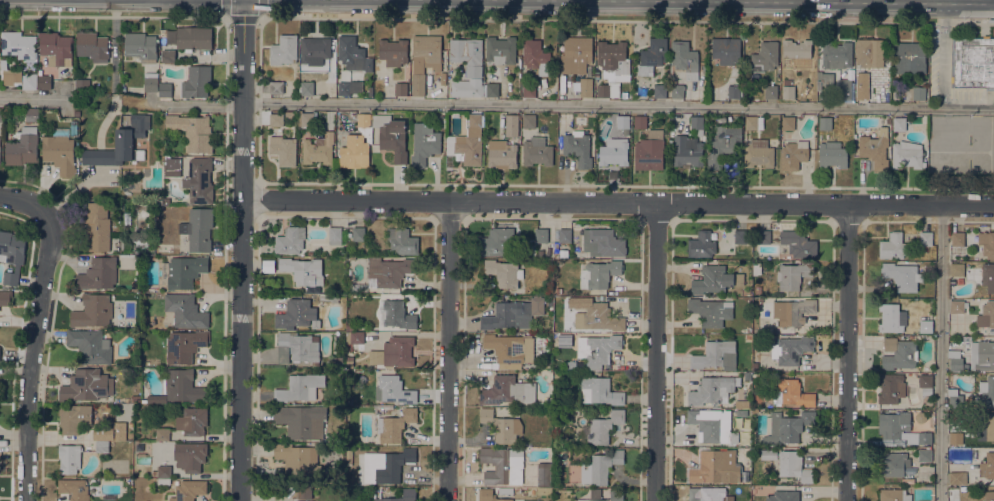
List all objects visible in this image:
road: (243, 16)
road: (225, 18)
road: (261, 19)
building: (193, 37)
building: (18, 44)
building: (93, 46)
building: (141, 46)
building: (56, 48)
building: (284, 49)
building: (796, 49)
building: (314, 50)
building: (500, 50)
building: (726, 50)
building: (393, 51)
building: (869, 52)
building: (353, 53)
building: (467, 54)
building: (576, 54)
road: (941, 54)
building: (168, 55)
building: (836, 55)
building: (536, 56)
building: (652, 56)
building: (765, 56)
building: (910, 57)
building: (685, 58)
building: (424, 59)
building: (973, 62)
building: (612, 68)
building: (850, 74)
building: (11, 76)
building: (443, 78)
building: (820, 78)
building: (43, 80)
building: (29, 81)
building: (196, 81)
building: (150, 83)
building: (82, 84)
building: (276, 86)
building: (586, 86)
building: (306, 87)
building: (467, 87)
building: (344, 88)
building: (400, 88)
building: (165, 89)
building: (491, 89)
building: (529, 89)
building: (788, 89)
building: (845, 89)
building: (660, 90)
building: (677, 90)
building: (734, 91)
building: (771, 91)
building: (862, 92)
building: (918, 92)
road: (34, 98)
road: (259, 101)
road: (560, 107)
building: (1, 114)
building: (32, 114)
building: (289, 115)
building: (606, 116)
building: (306, 118)
building: (276, 119)
building: (529, 121)
building: (623, 121)
building: (640, 121)
building: (753, 122)
building: (788, 122)
building: (825, 123)
building: (898, 123)
building: (511, 124)
building: (697, 124)
building: (192, 131)
building: (391, 135)
building: (467, 142)
building: (424, 143)
building: (724, 143)
building: (121, 144)
building: (357, 144)
building: (23, 147)
building: (578, 147)
building: (875, 147)
building: (0, 148)
building: (61, 148)
road: (225, 148)
building: (283, 150)
building: (317, 150)
building: (649, 150)
building: (687, 150)
building: (537, 151)
building: (613, 151)
building: (758, 153)
building: (501, 154)
building: (793, 154)
building: (832, 154)
building: (906, 155)
building: (172, 166)
building: (198, 181)
road: (259, 181)
road: (21, 198)
road: (257, 199)
road: (618, 201)
road: (345, 216)
road: (259, 217)
road: (449, 217)
road: (434, 218)
road: (552, 218)
road: (657, 218)
road: (465, 219)
road: (752, 219)
road: (641, 220)
road: (673, 220)
road: (848, 220)
road: (832, 221)
road: (864, 221)
building: (97, 225)
building: (198, 228)
building: (358, 233)
building: (335, 235)
building: (541, 235)
building: (565, 235)
building: (740, 235)
building: (764, 236)
building: (925, 238)
building: (958, 239)
building: (290, 240)
building: (402, 241)
building: (497, 242)
building: (603, 242)
building: (120, 243)
building: (142, 243)
building: (798, 243)
building: (987, 243)
building: (701, 245)
building: (893, 246)
road: (241, 250)
building: (540, 252)
building: (12, 254)
building: (757, 268)
building: (303, 269)
building: (957, 269)
building: (389, 270)
building: (182, 271)
building: (504, 272)
building: (98, 273)
building: (598, 273)
building: (793, 275)
building: (902, 276)
building: (988, 276)
building: (715, 279)
building: (757, 289)
building: (558, 290)
building: (746, 291)
building: (5, 297)
building: (329, 297)
road: (862, 297)
building: (957, 306)
building: (92, 310)
building: (185, 310)
building: (792, 310)
building: (711, 311)
building: (396, 313)
building: (297, 314)
building: (513, 314)
building: (986, 315)
building: (598, 317)
building: (892, 317)
building: (925, 325)
building: (349, 327)
building: (748, 336)
building: (355, 340)
building: (90, 345)
building: (185, 345)
building: (297, 347)
building: (510, 347)
building: (597, 348)
building: (791, 349)
road: (34, 350)
road: (449, 350)
road: (656, 351)
building: (393, 352)
road: (847, 352)
road: (941, 352)
building: (899, 353)
building: (716, 355)
building: (982, 355)
building: (337, 360)
building: (955, 360)
building: (349, 361)
building: (570, 364)
building: (755, 366)
building: (557, 375)
building: (747, 375)
building: (572, 376)
building: (925, 383)
building: (87, 385)
building: (182, 385)
building: (300, 387)
building: (891, 387)
building: (394, 389)
building: (712, 389)
building: (507, 390)
building: (599, 391)
building: (986, 392)
building: (792, 393)
building: (135, 398)
building: (955, 399)
building: (349, 400)
building: (742, 403)
building: (378, 409)
building: (741, 412)
building: (141, 416)
building: (74, 417)
building: (192, 420)
building: (301, 420)
building: (395, 425)
building: (712, 425)
building: (502, 426)
building: (604, 427)
building: (786, 427)
building: (986, 427)
building: (900, 428)
building: (111, 432)
building: (162, 433)
building: (956, 439)
building: (102, 446)
building: (924, 454)
building: (190, 455)
building: (69, 458)
building: (298, 459)
building: (894, 464)
building: (386, 465)
building: (503, 465)
building: (604, 465)
building: (793, 466)
building: (987, 466)
building: (718, 467)
building: (164, 471)
building: (154, 472)
building: (543, 474)
building: (957, 477)
building: (163, 480)
building: (908, 480)
building: (74, 488)
building: (189, 490)
building: (505, 490)
building: (304, 491)
building: (409, 492)
building: (616, 494)
building: (489, 495)
building: (702, 495)
building: (783, 495)
building: (894, 495)
building: (989, 495)
building: (728, 497)

